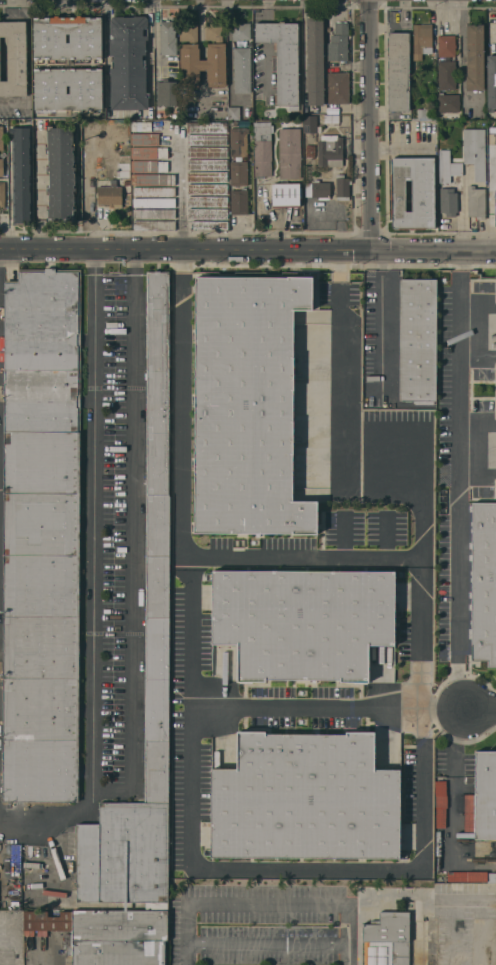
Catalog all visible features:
road: (264, 11)
building: (241, 31)
road: (264, 32)
building: (167, 38)
building: (422, 38)
building: (338, 42)
building: (446, 45)
building: (189, 54)
road: (463, 56)
building: (474, 57)
building: (14, 58)
building: (283, 58)
road: (150, 60)
building: (128, 62)
building: (315, 62)
building: (67, 64)
road: (265, 64)
building: (242, 70)
building: (399, 70)
road: (105, 73)
building: (446, 75)
building: (491, 82)
building: (338, 87)
building: (166, 92)
road: (11, 100)
building: (448, 102)
building: (423, 112)
building: (234, 113)
building: (331, 119)
building: (311, 124)
road: (372, 124)
building: (141, 126)
building: (196, 127)
building: (216, 127)
building: (1, 138)
building: (145, 139)
building: (196, 139)
building: (216, 139)
building: (238, 142)
building: (263, 148)
building: (330, 150)
building: (310, 151)
building: (475, 151)
building: (143, 152)
building: (162, 152)
building: (196, 152)
building: (216, 152)
building: (290, 153)
building: (196, 164)
building: (216, 164)
building: (144, 166)
building: (163, 166)
building: (1, 167)
building: (123, 170)
building: (238, 173)
building: (21, 174)
building: (60, 174)
building: (487, 175)
building: (492, 175)
building: (196, 176)
building: (216, 176)
building: (144, 179)
building: (165, 179)
building: (449, 179)
building: (126, 182)
road: (38, 186)
building: (342, 187)
road: (87, 188)
road: (182, 188)
building: (196, 189)
building: (216, 189)
building: (318, 189)
building: (144, 191)
building: (165, 191)
building: (413, 192)
building: (2, 193)
building: (286, 194)
building: (109, 195)
building: (216, 200)
building: (196, 201)
building: (239, 201)
building: (476, 201)
building: (144, 202)
building: (165, 202)
building: (144, 213)
building: (165, 213)
building: (196, 213)
building: (216, 213)
building: (493, 213)
building: (145, 225)
building: (166, 225)
building: (198, 225)
building: (217, 225)
road: (248, 249)
road: (0, 276)
road: (381, 300)
building: (418, 340)
building: (492, 341)
building: (247, 405)
road: (417, 459)
road: (458, 481)
building: (41, 535)
road: (134, 544)
road: (303, 560)
road: (90, 576)
building: (483, 583)
building: (303, 621)
building: (156, 649)
road: (328, 709)
road: (481, 709)
road: (191, 754)
road: (452, 786)
building: (485, 795)
building: (305, 798)
building: (440, 804)
building: (471, 876)
building: (107, 935)
building: (386, 940)
building: (431, 941)
building: (494, 956)
road: (44, 957)

